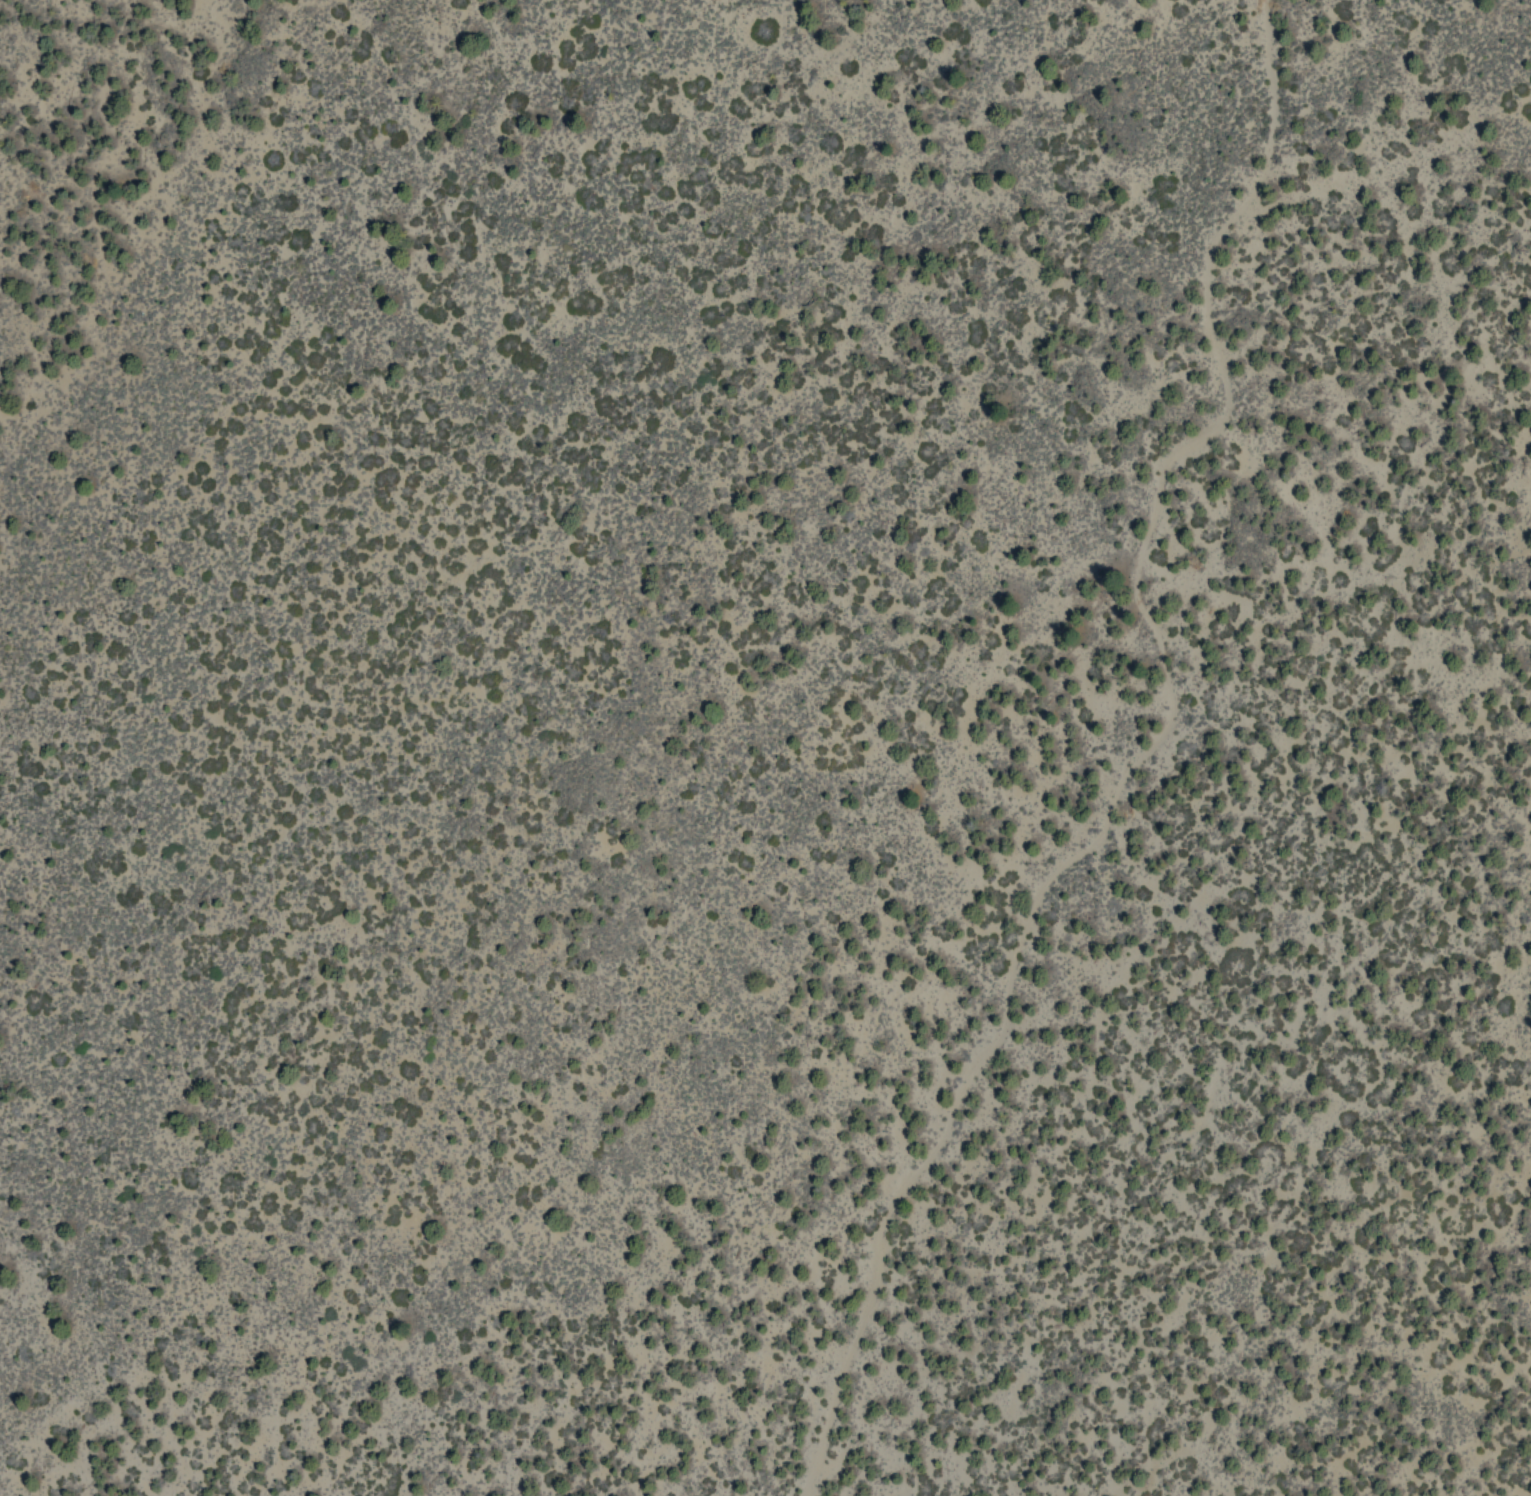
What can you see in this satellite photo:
road: (1140, 757)

